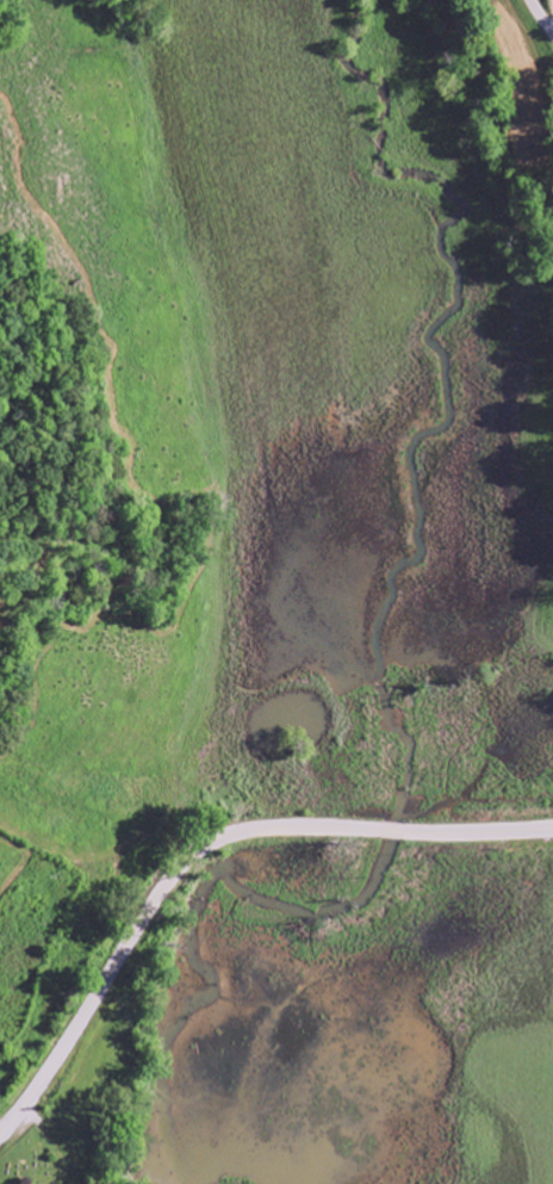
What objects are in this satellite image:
road: (541, 17)
road: (203, 850)

